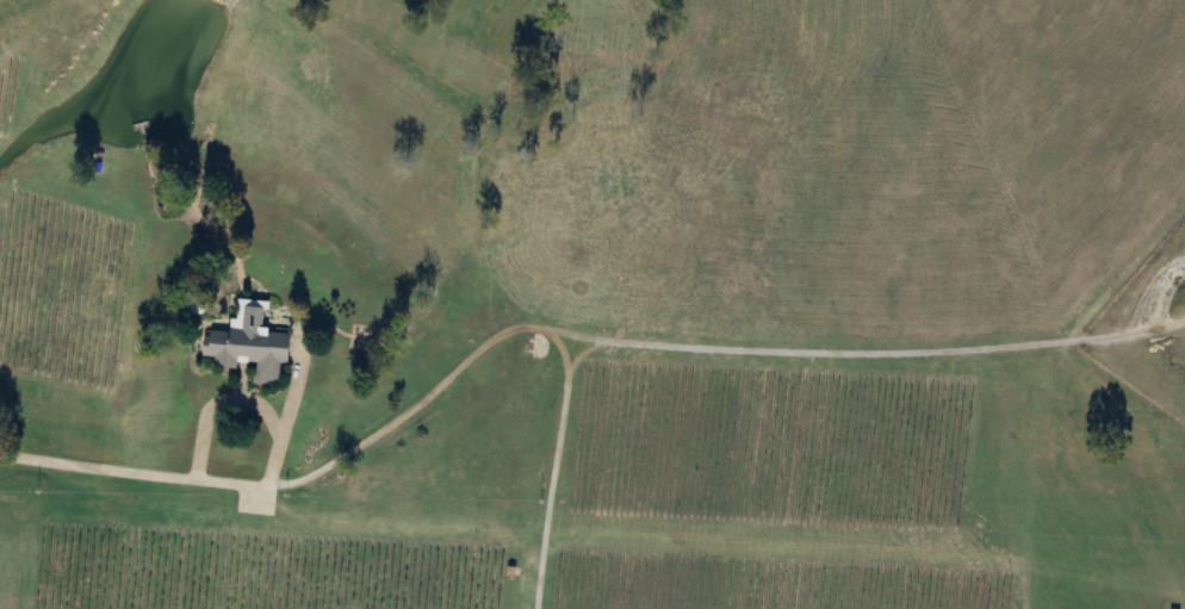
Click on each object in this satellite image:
building: (249, 348)
road: (272, 415)
road: (99, 465)

